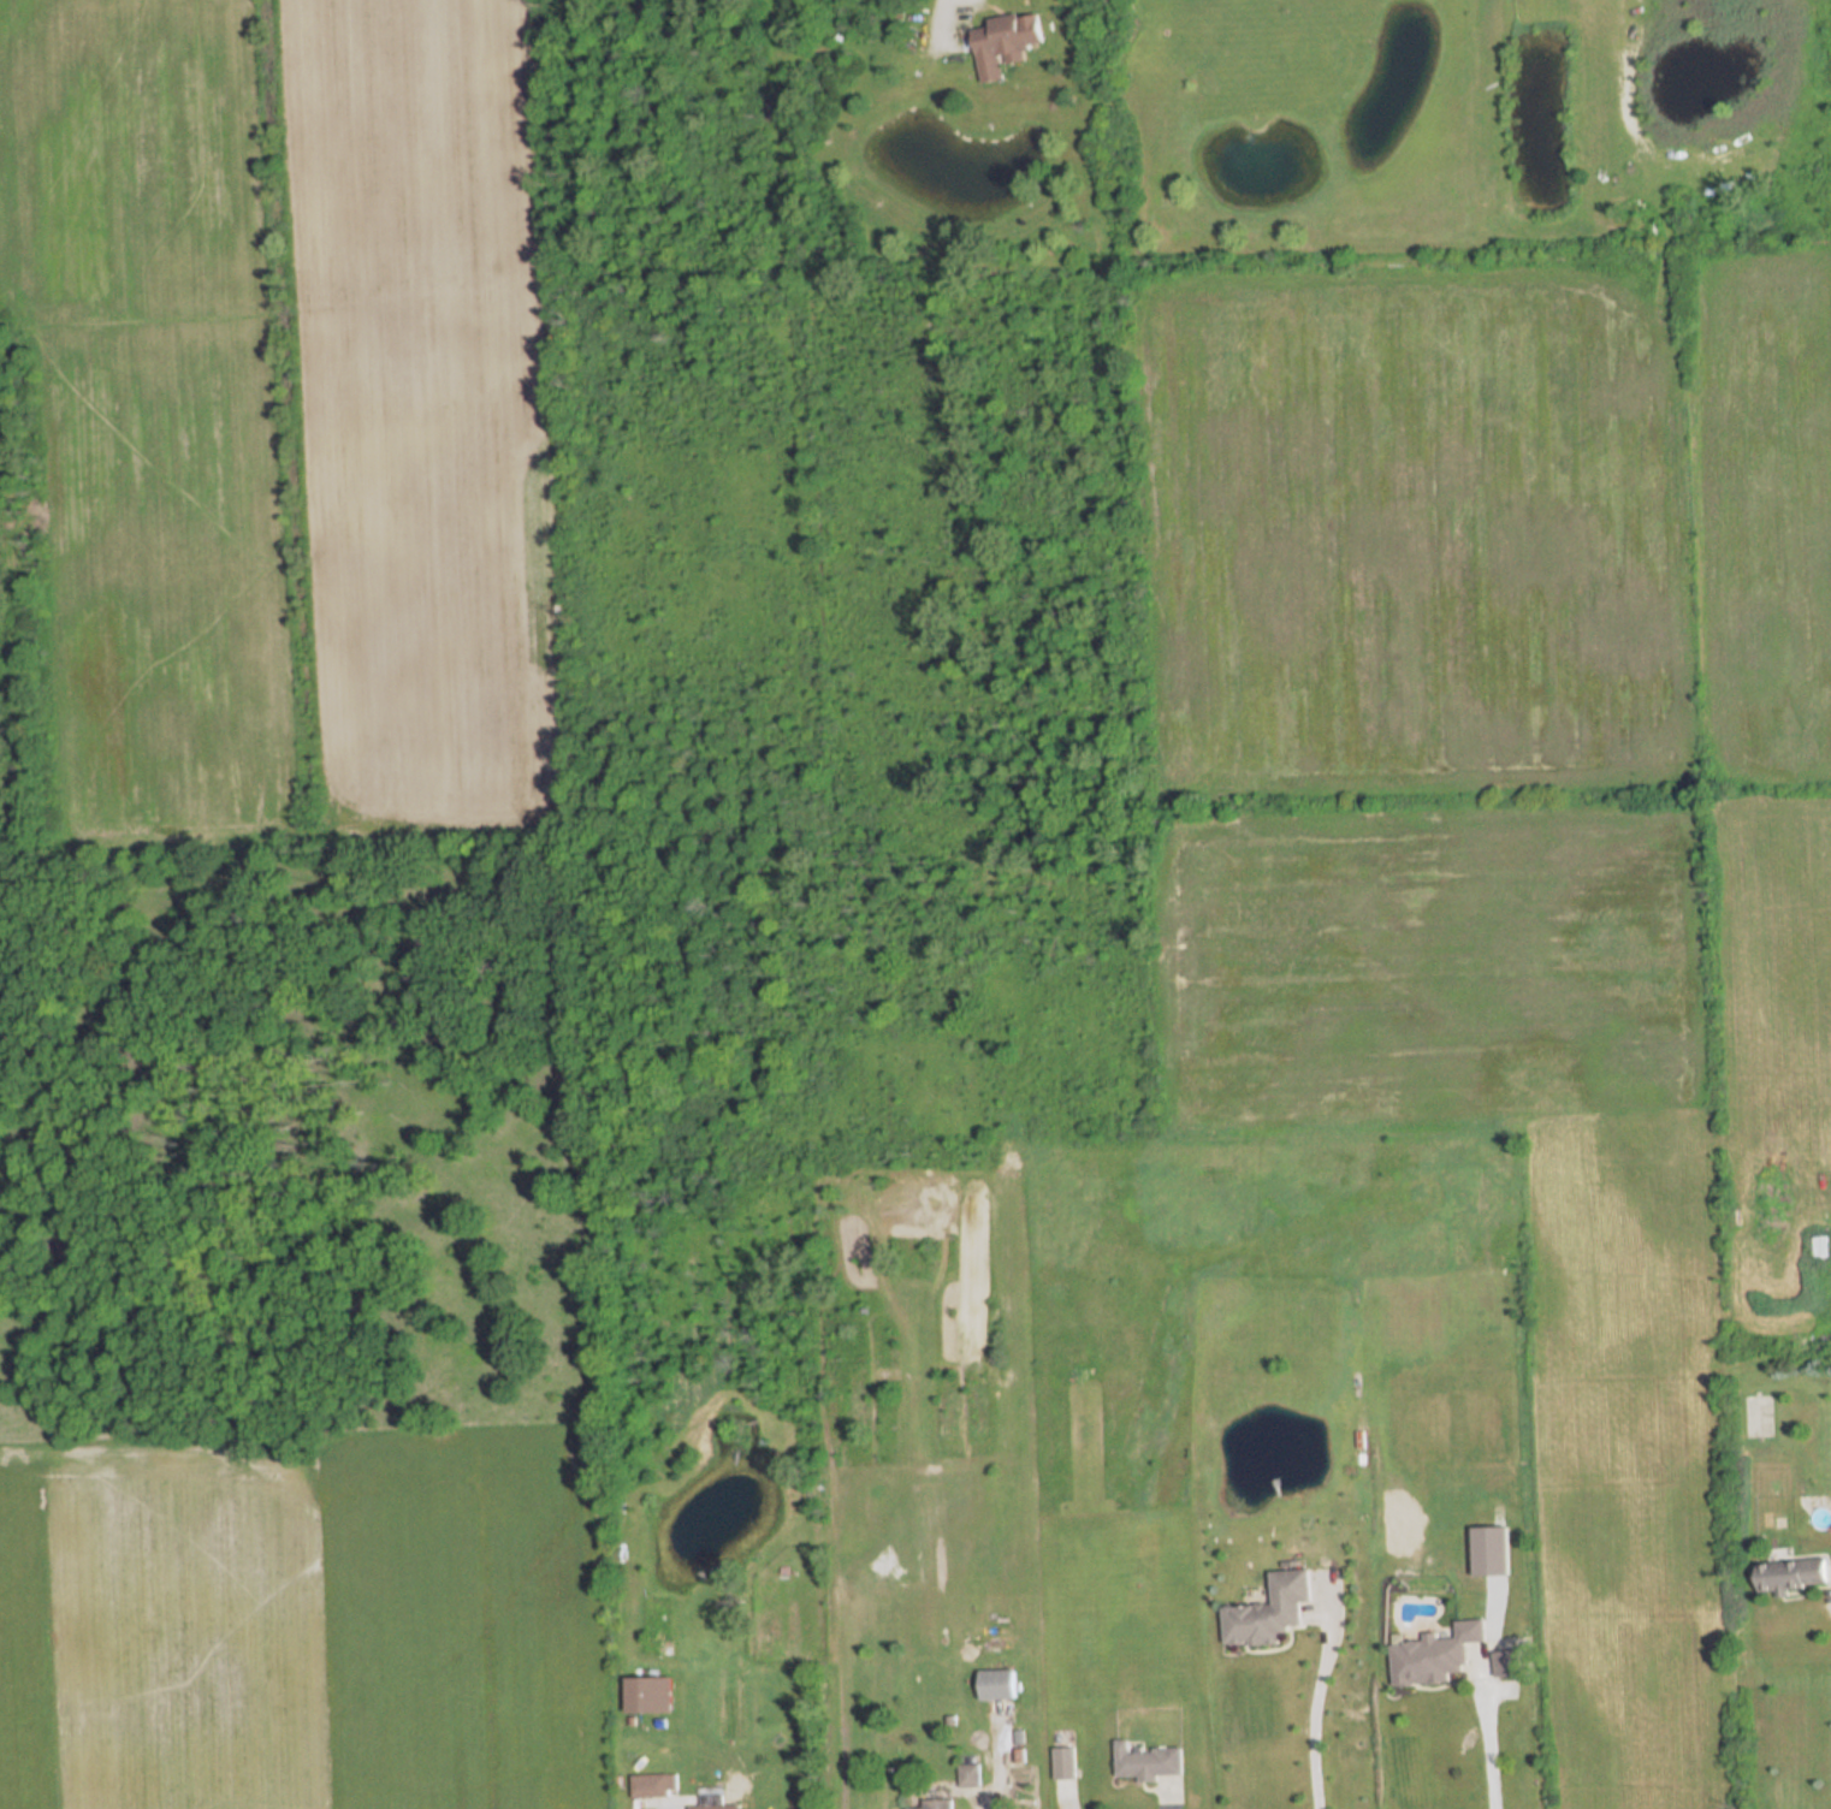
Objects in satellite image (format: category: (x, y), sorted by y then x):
building: (1006, 43)
building: (1820, 1246)
building: (1795, 1574)
building: (1270, 1613)
building: (1436, 1656)
building: (999, 1685)
building: (650, 1695)
road: (1316, 1695)
road: (1489, 1748)
building: (1063, 1763)
building: (1149, 1763)
building: (968, 1775)
building: (654, 1786)
road: (1168, 1795)
building: (937, 1804)
road: (977, 1804)
building: (713, 1805)

